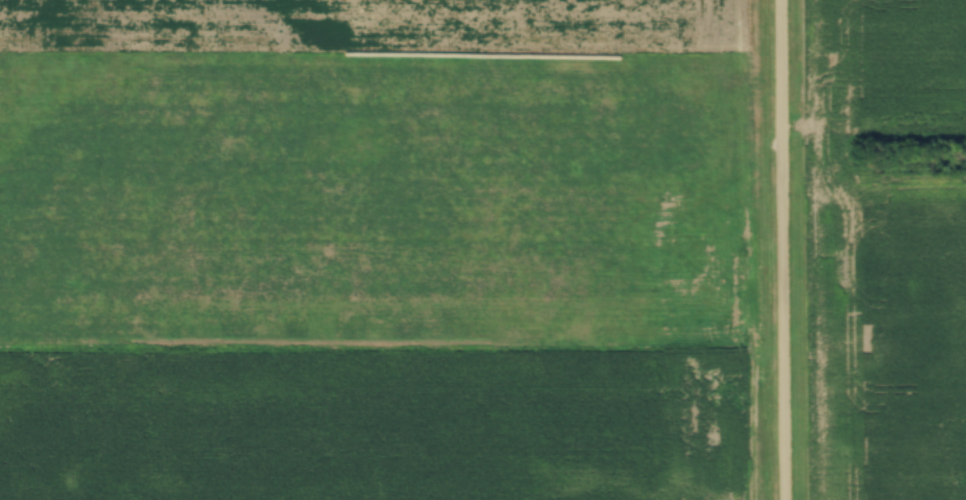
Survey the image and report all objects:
road: (783, 249)

